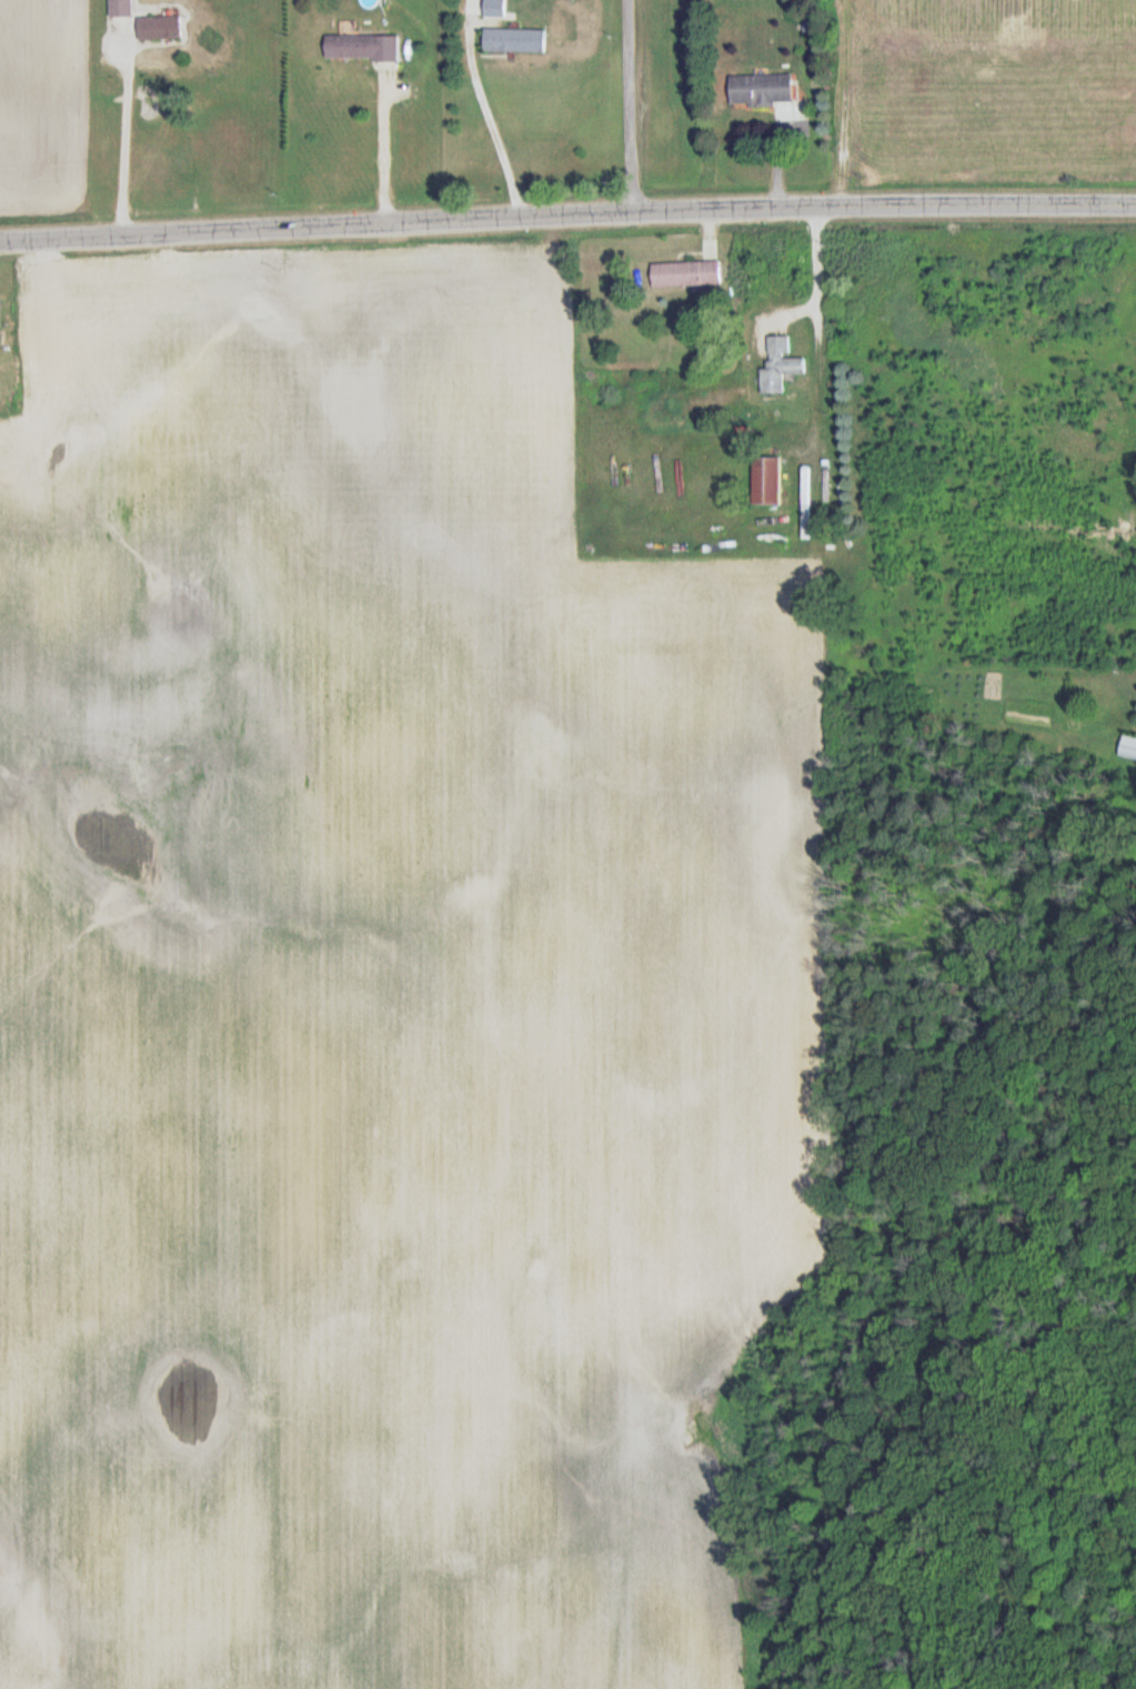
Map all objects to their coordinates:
building: (495, 8)
building: (121, 9)
building: (160, 29)
building: (515, 40)
building: (362, 48)
building: (762, 90)
road: (633, 105)
road: (494, 125)
road: (118, 135)
road: (385, 150)
road: (567, 214)
building: (687, 274)
road: (821, 274)
building: (781, 366)
building: (767, 482)
building: (1129, 748)

